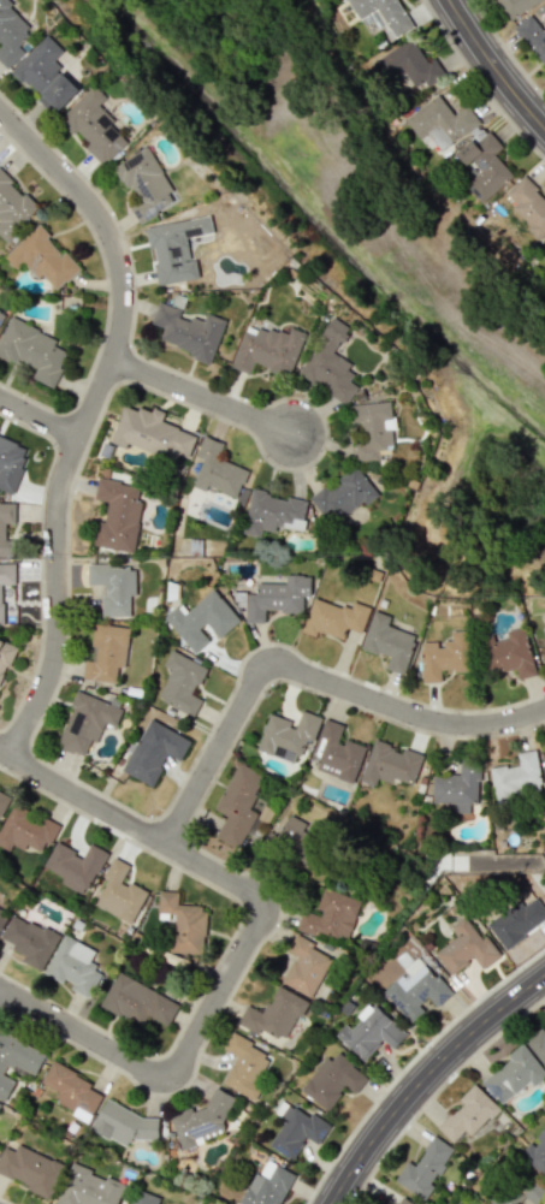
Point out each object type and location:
building: (514, 6)
building: (384, 14)
building: (11, 34)
building: (532, 37)
building: (409, 65)
road: (493, 66)
building: (45, 75)
building: (442, 121)
building: (94, 125)
building: (485, 165)
building: (146, 184)
building: (529, 204)
building: (12, 207)
building: (544, 245)
building: (176, 248)
building: (41, 257)
building: (1, 315)
building: (188, 331)
building: (32, 350)
building: (267, 350)
building: (331, 363)
road: (203, 395)
road: (40, 416)
road: (89, 416)
building: (373, 429)
building: (152, 433)
building: (11, 462)
building: (217, 469)
building: (344, 494)
building: (273, 512)
building: (117, 515)
building: (2, 529)
building: (5, 582)
building: (113, 587)
building: (274, 598)
building: (334, 618)
building: (202, 619)
building: (544, 625)
building: (389, 641)
building: (106, 652)
building: (508, 653)
building: (445, 656)
building: (5, 657)
road: (304, 672)
building: (180, 683)
building: (85, 722)
building: (286, 735)
building: (544, 746)
building: (154, 751)
building: (336, 752)
building: (390, 764)
building: (516, 776)
building: (457, 788)
building: (2, 800)
building: (238, 805)
building: (25, 830)
building: (75, 866)
road: (220, 876)
building: (119, 892)
building: (0, 906)
building: (330, 914)
building: (1, 920)
building: (519, 921)
building: (183, 923)
building: (29, 941)
building: (464, 947)
building: (73, 965)
building: (307, 966)
building: (415, 989)
building: (137, 1001)
building: (274, 1013)
building: (369, 1032)
road: (85, 1036)
building: (537, 1044)
building: (17, 1060)
building: (244, 1066)
building: (514, 1074)
road: (425, 1078)
building: (333, 1079)
building: (72, 1091)
building: (468, 1114)
building: (200, 1122)
building: (123, 1123)
building: (295, 1129)
building: (535, 1152)
building: (425, 1168)
building: (30, 1169)
building: (267, 1185)
building: (89, 1187)
building: (521, 1191)
building: (144, 1198)
building: (403, 1202)

